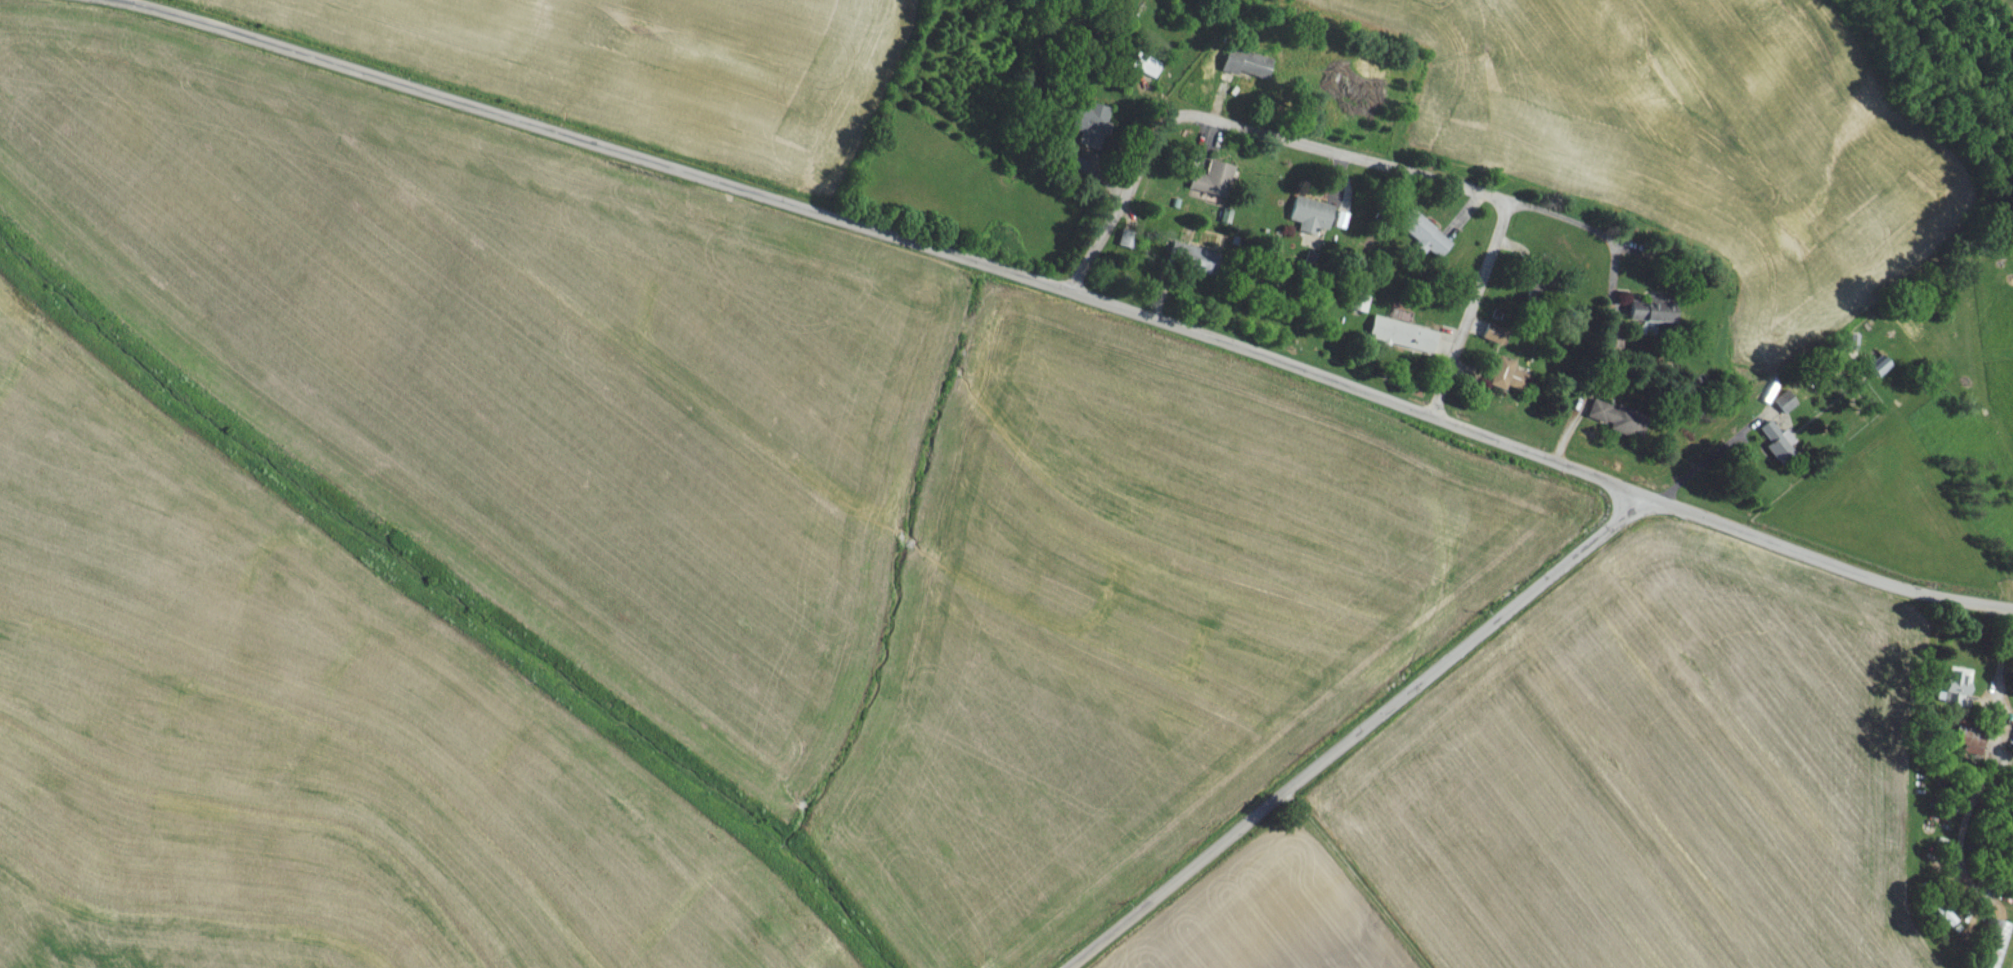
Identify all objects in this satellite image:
building: (1244, 70)
building: (1143, 71)
building: (1086, 127)
road: (581, 147)
road: (1358, 166)
building: (1210, 185)
building: (1308, 220)
building: (1421, 239)
building: (1191, 264)
road: (1607, 307)
building: (1356, 309)
building: (1650, 319)
building: (1399, 341)
building: (1876, 372)
building: (1498, 379)
road: (1354, 397)
building: (1775, 417)
building: (1606, 422)
road: (1703, 465)
road: (1823, 568)
building: (1955, 692)
road: (1357, 736)
road: (1986, 761)
building: (1930, 910)
building: (1994, 948)

